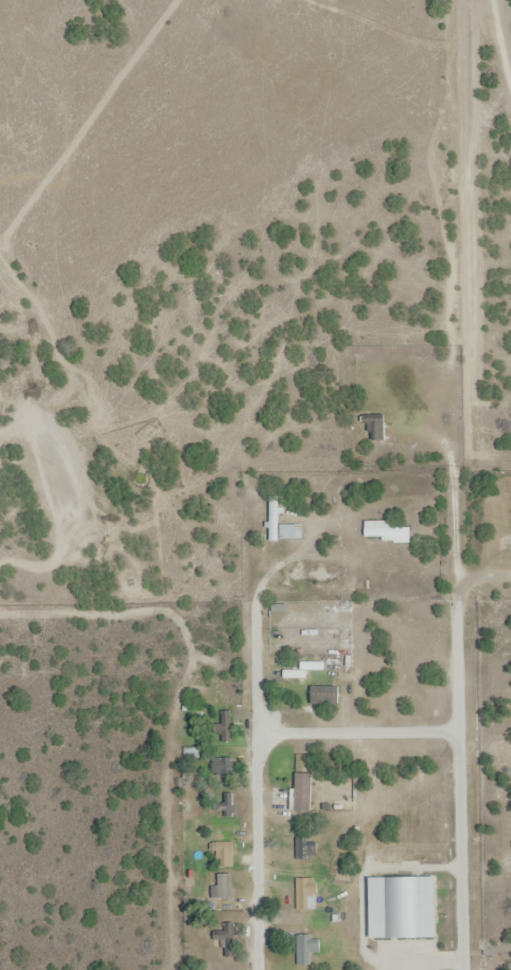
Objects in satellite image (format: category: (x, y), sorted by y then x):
building: (291, 531)
building: (387, 531)
building: (305, 668)
building: (325, 695)
building: (227, 730)
road: (360, 731)
building: (225, 767)
road: (461, 785)
road: (259, 786)
building: (303, 791)
building: (226, 804)
building: (309, 849)
building: (226, 853)
building: (308, 893)
building: (226, 895)
building: (307, 948)

